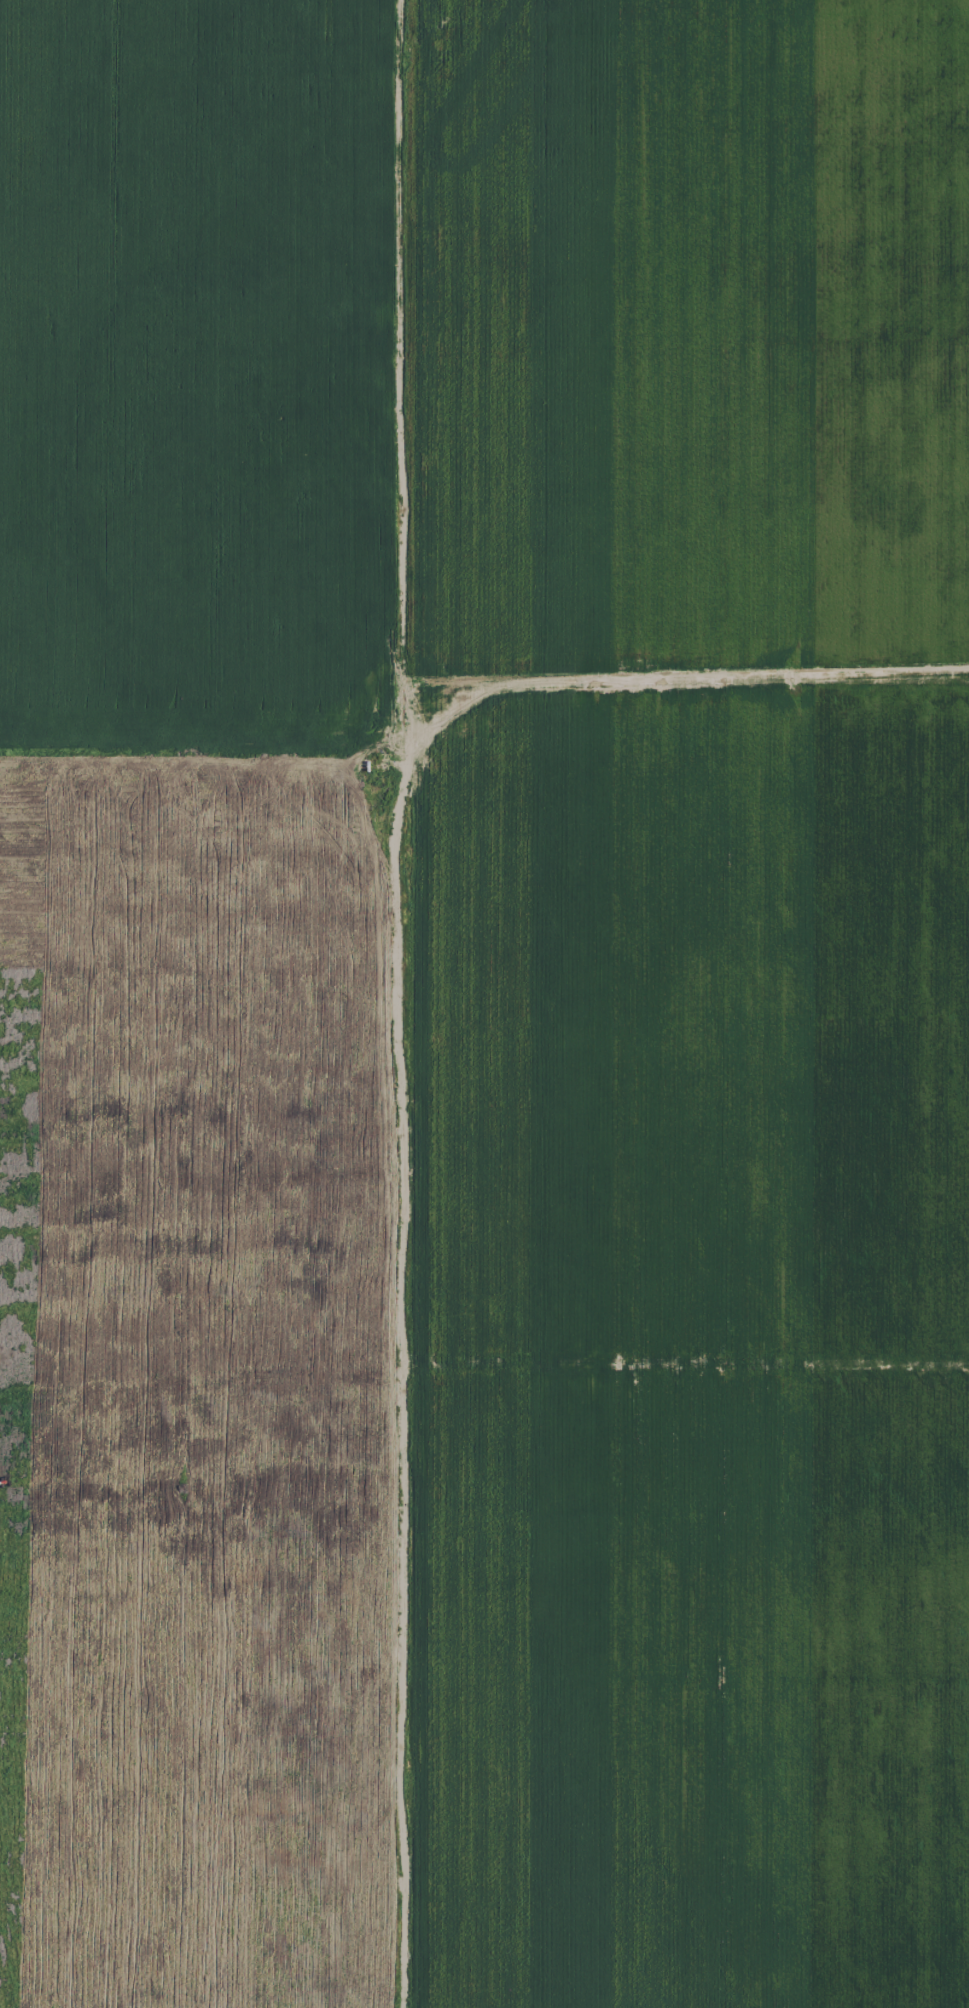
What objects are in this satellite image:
road: (204, 757)
road: (395, 1003)

